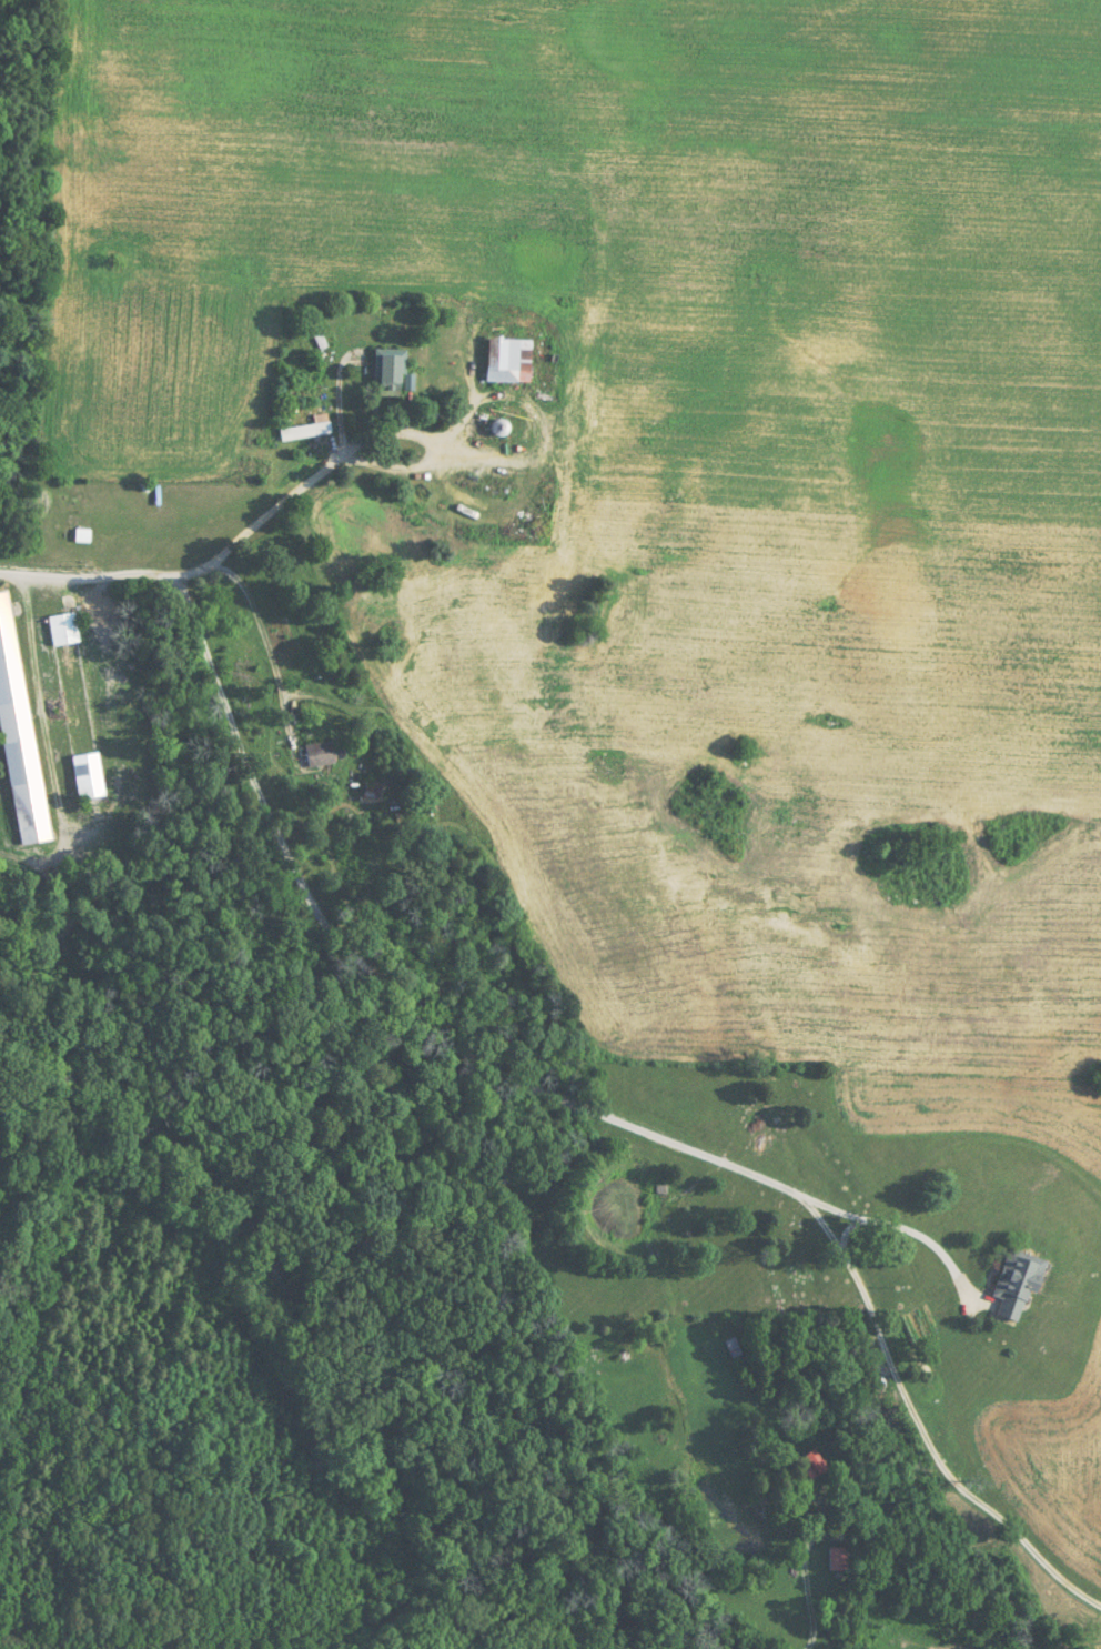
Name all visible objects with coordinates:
building: (501, 360)
building: (377, 369)
building: (304, 431)
building: (81, 535)
road: (234, 537)
building: (55, 626)
building: (14, 743)
building: (313, 753)
building: (80, 773)
building: (365, 787)
building: (1009, 1284)
building: (830, 1558)
road: (802, 1583)

